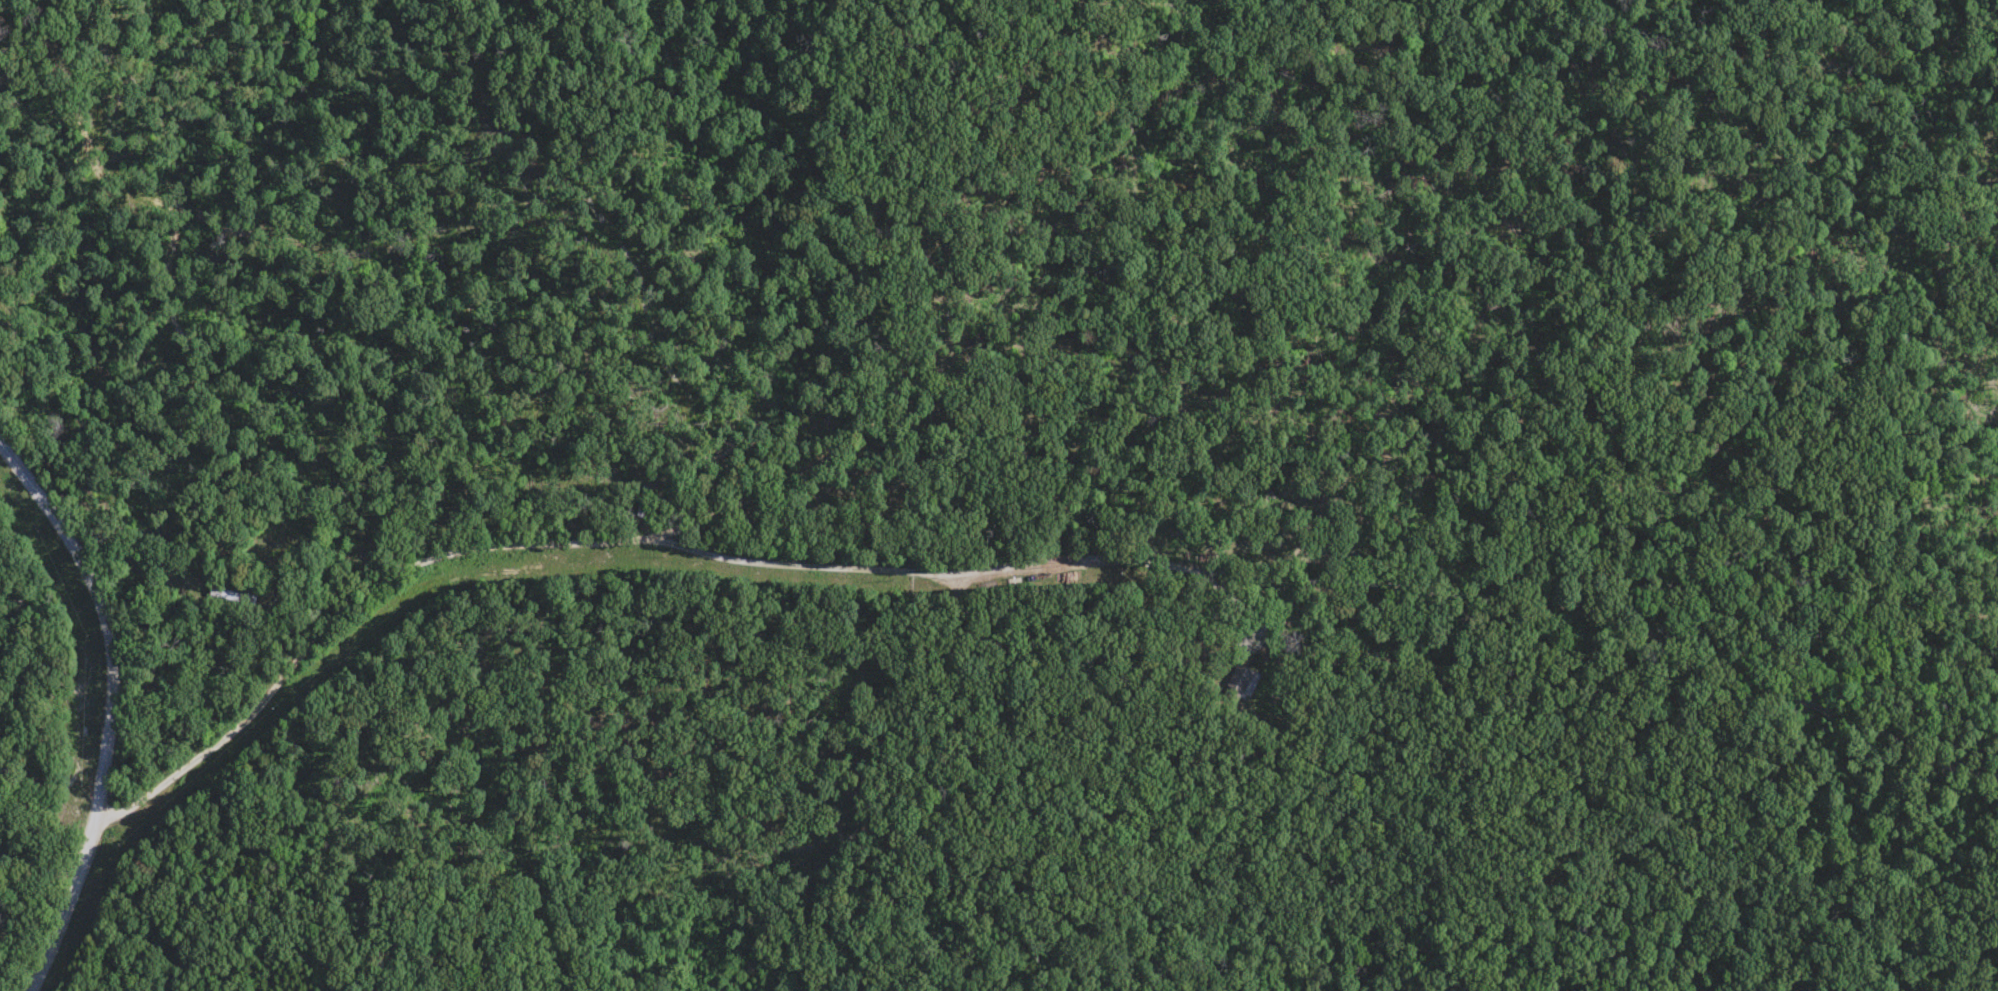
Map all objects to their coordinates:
road: (807, 480)
road: (705, 548)
building: (231, 596)
road: (113, 707)

